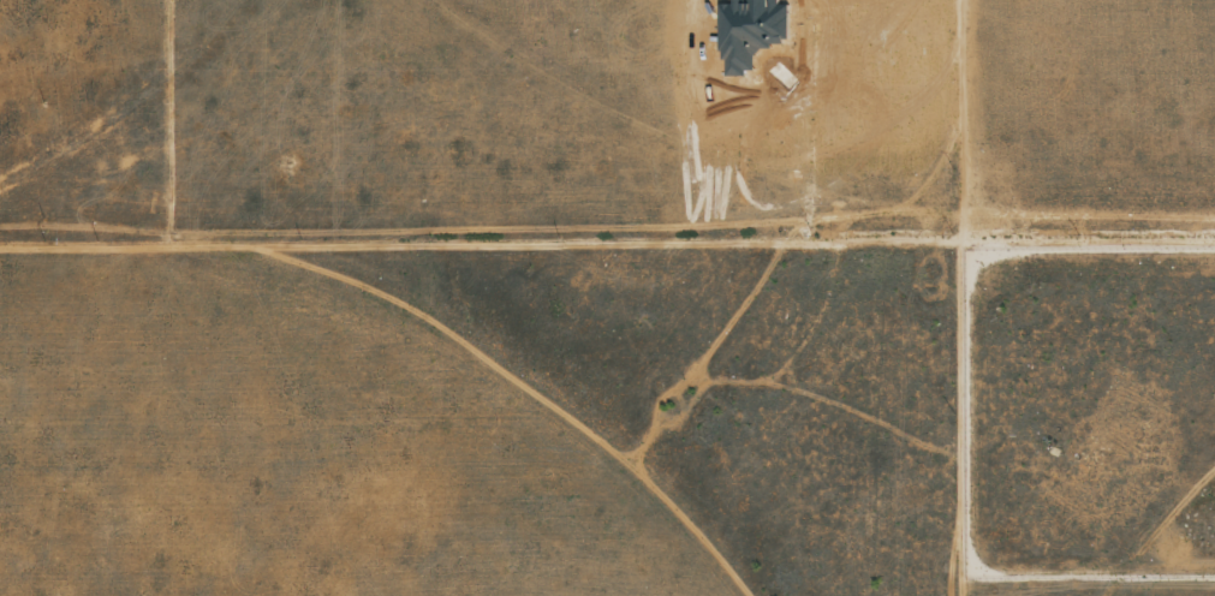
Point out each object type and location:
road: (1086, 248)
road: (478, 250)
road: (955, 412)

